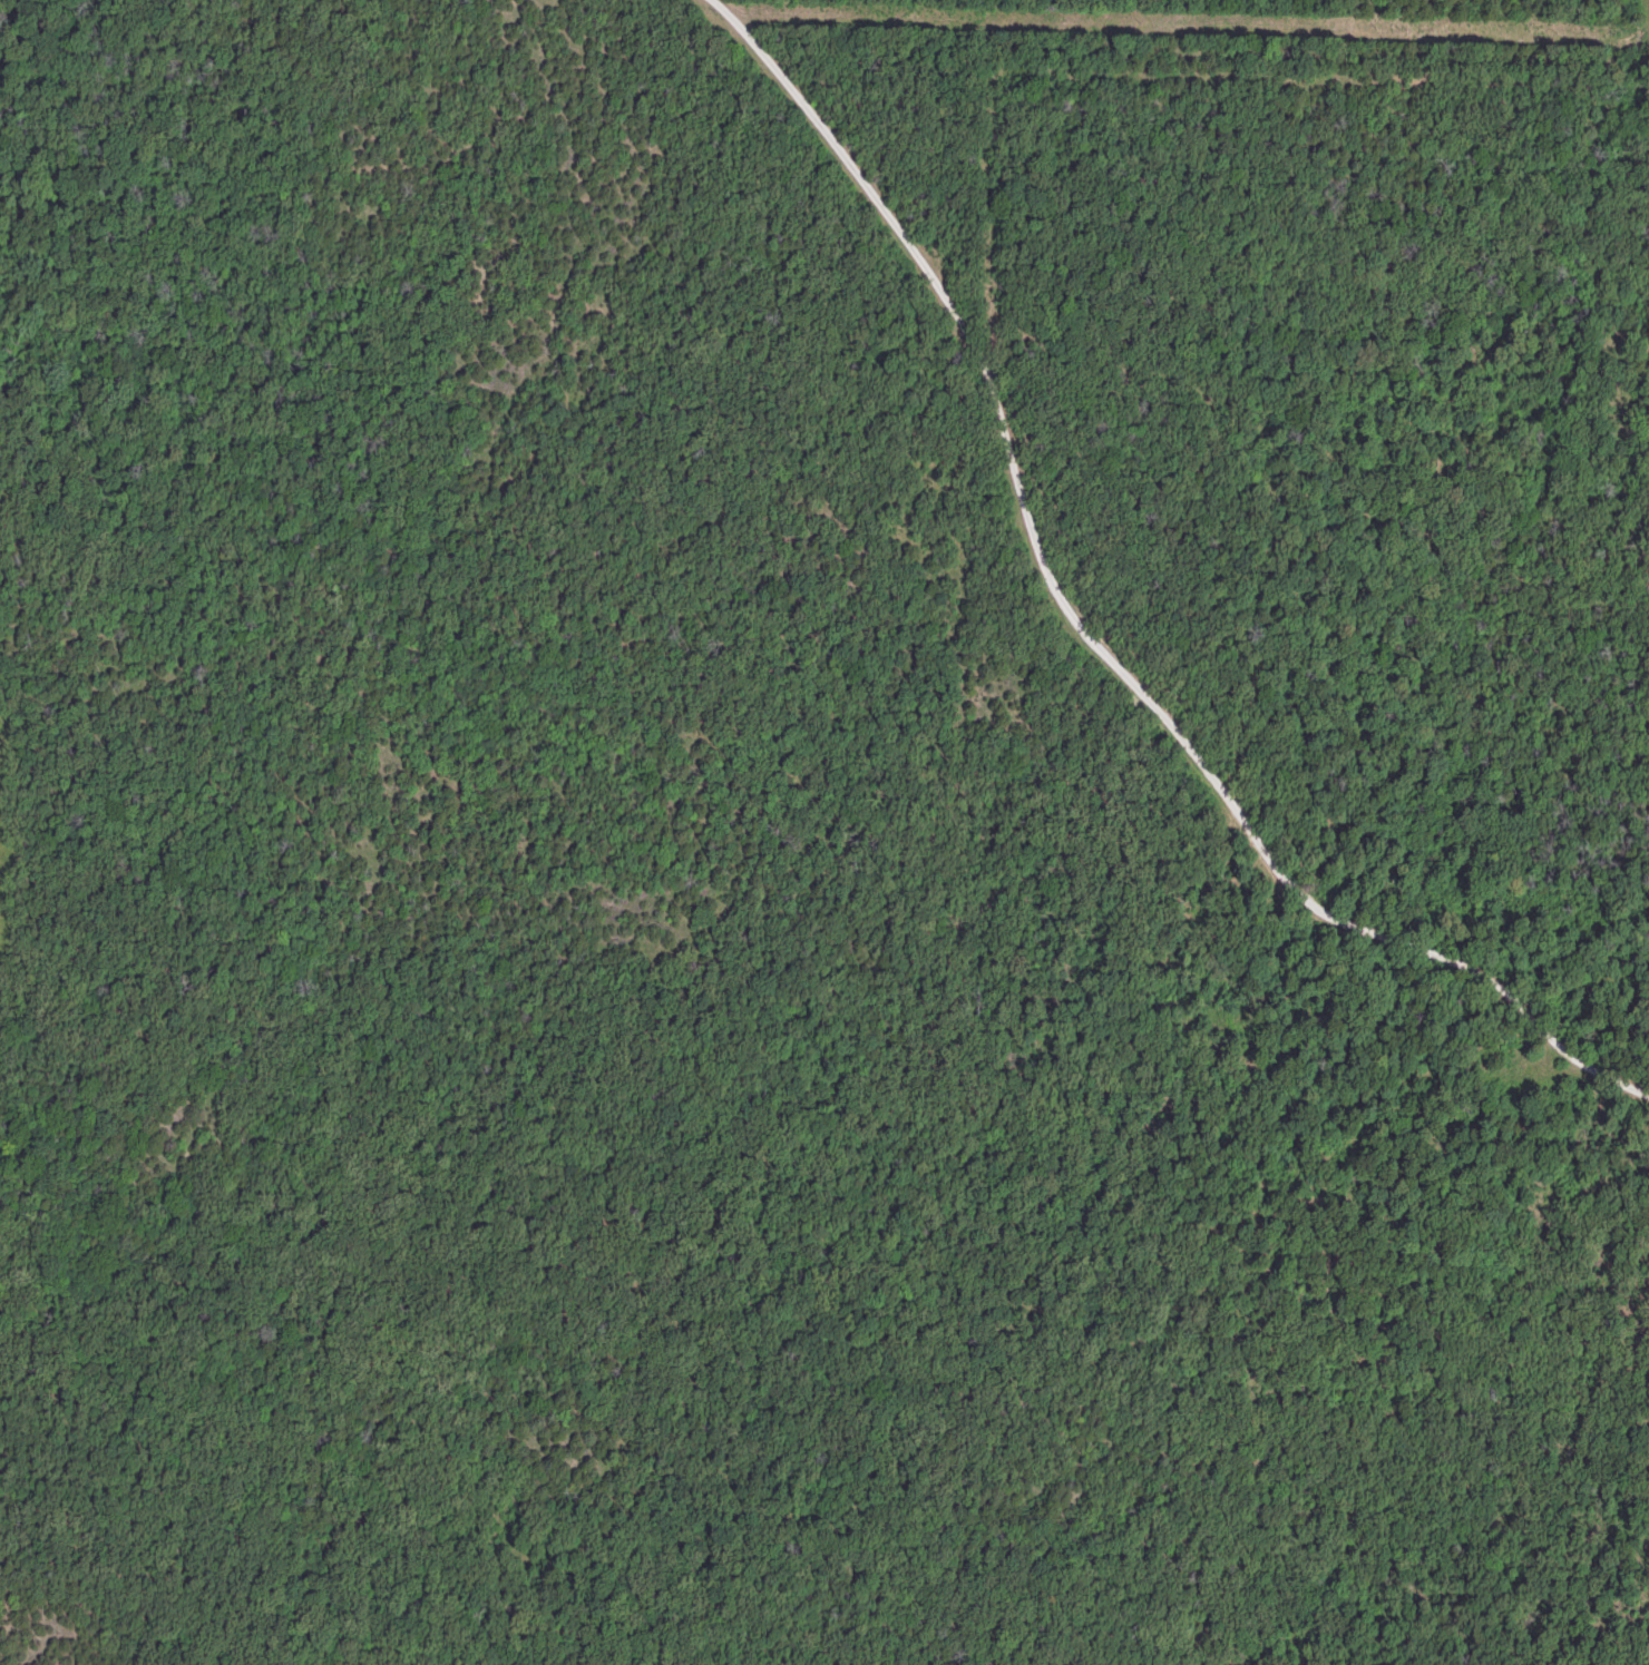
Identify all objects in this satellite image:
road: (1094, 618)

